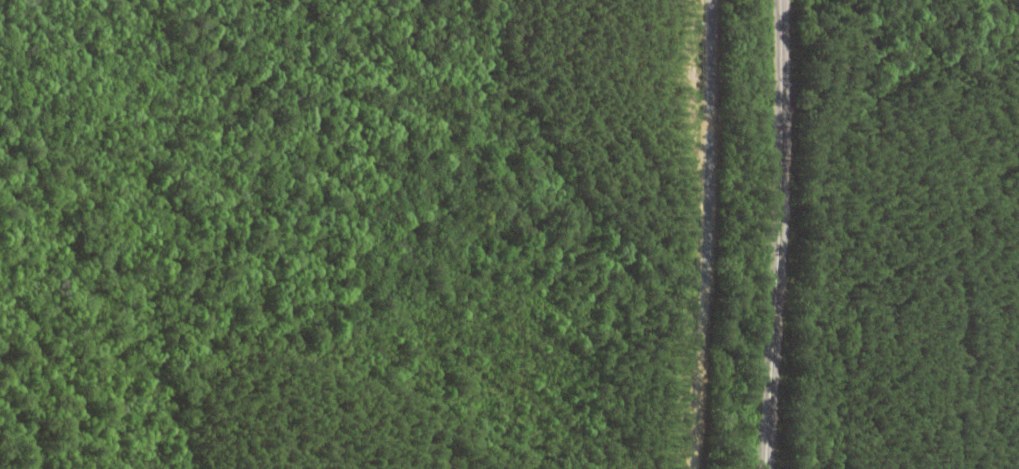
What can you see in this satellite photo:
road: (711, 234)
railway: (784, 234)

